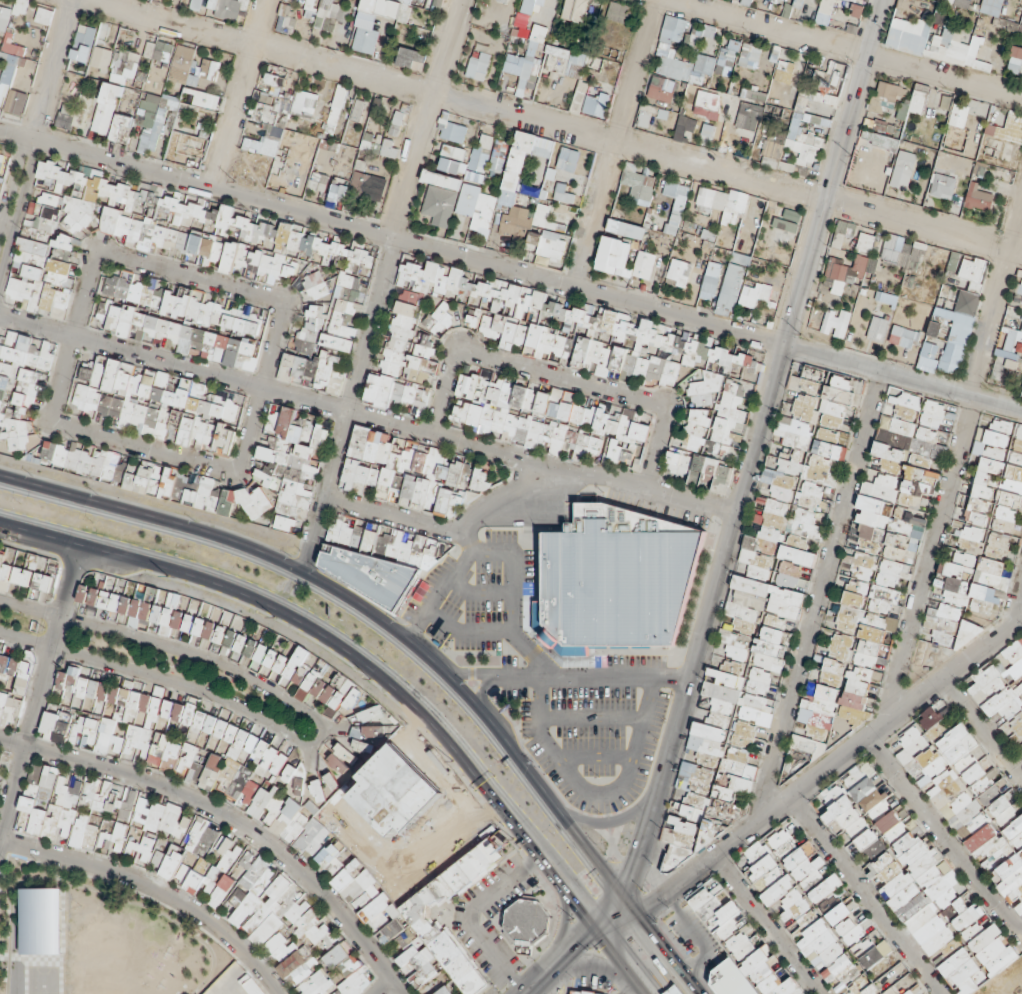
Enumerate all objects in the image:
park: (22, 620)
park: (189, 675)
parking lot: (552, 686)
park: (90, 938)

